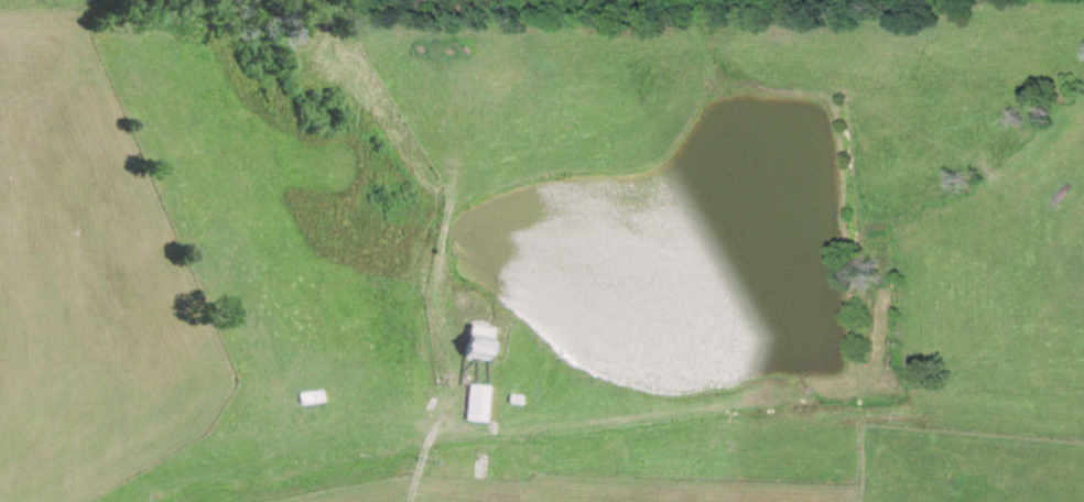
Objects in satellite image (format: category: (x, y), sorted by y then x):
building: (478, 340)
building: (477, 402)
road: (426, 445)

